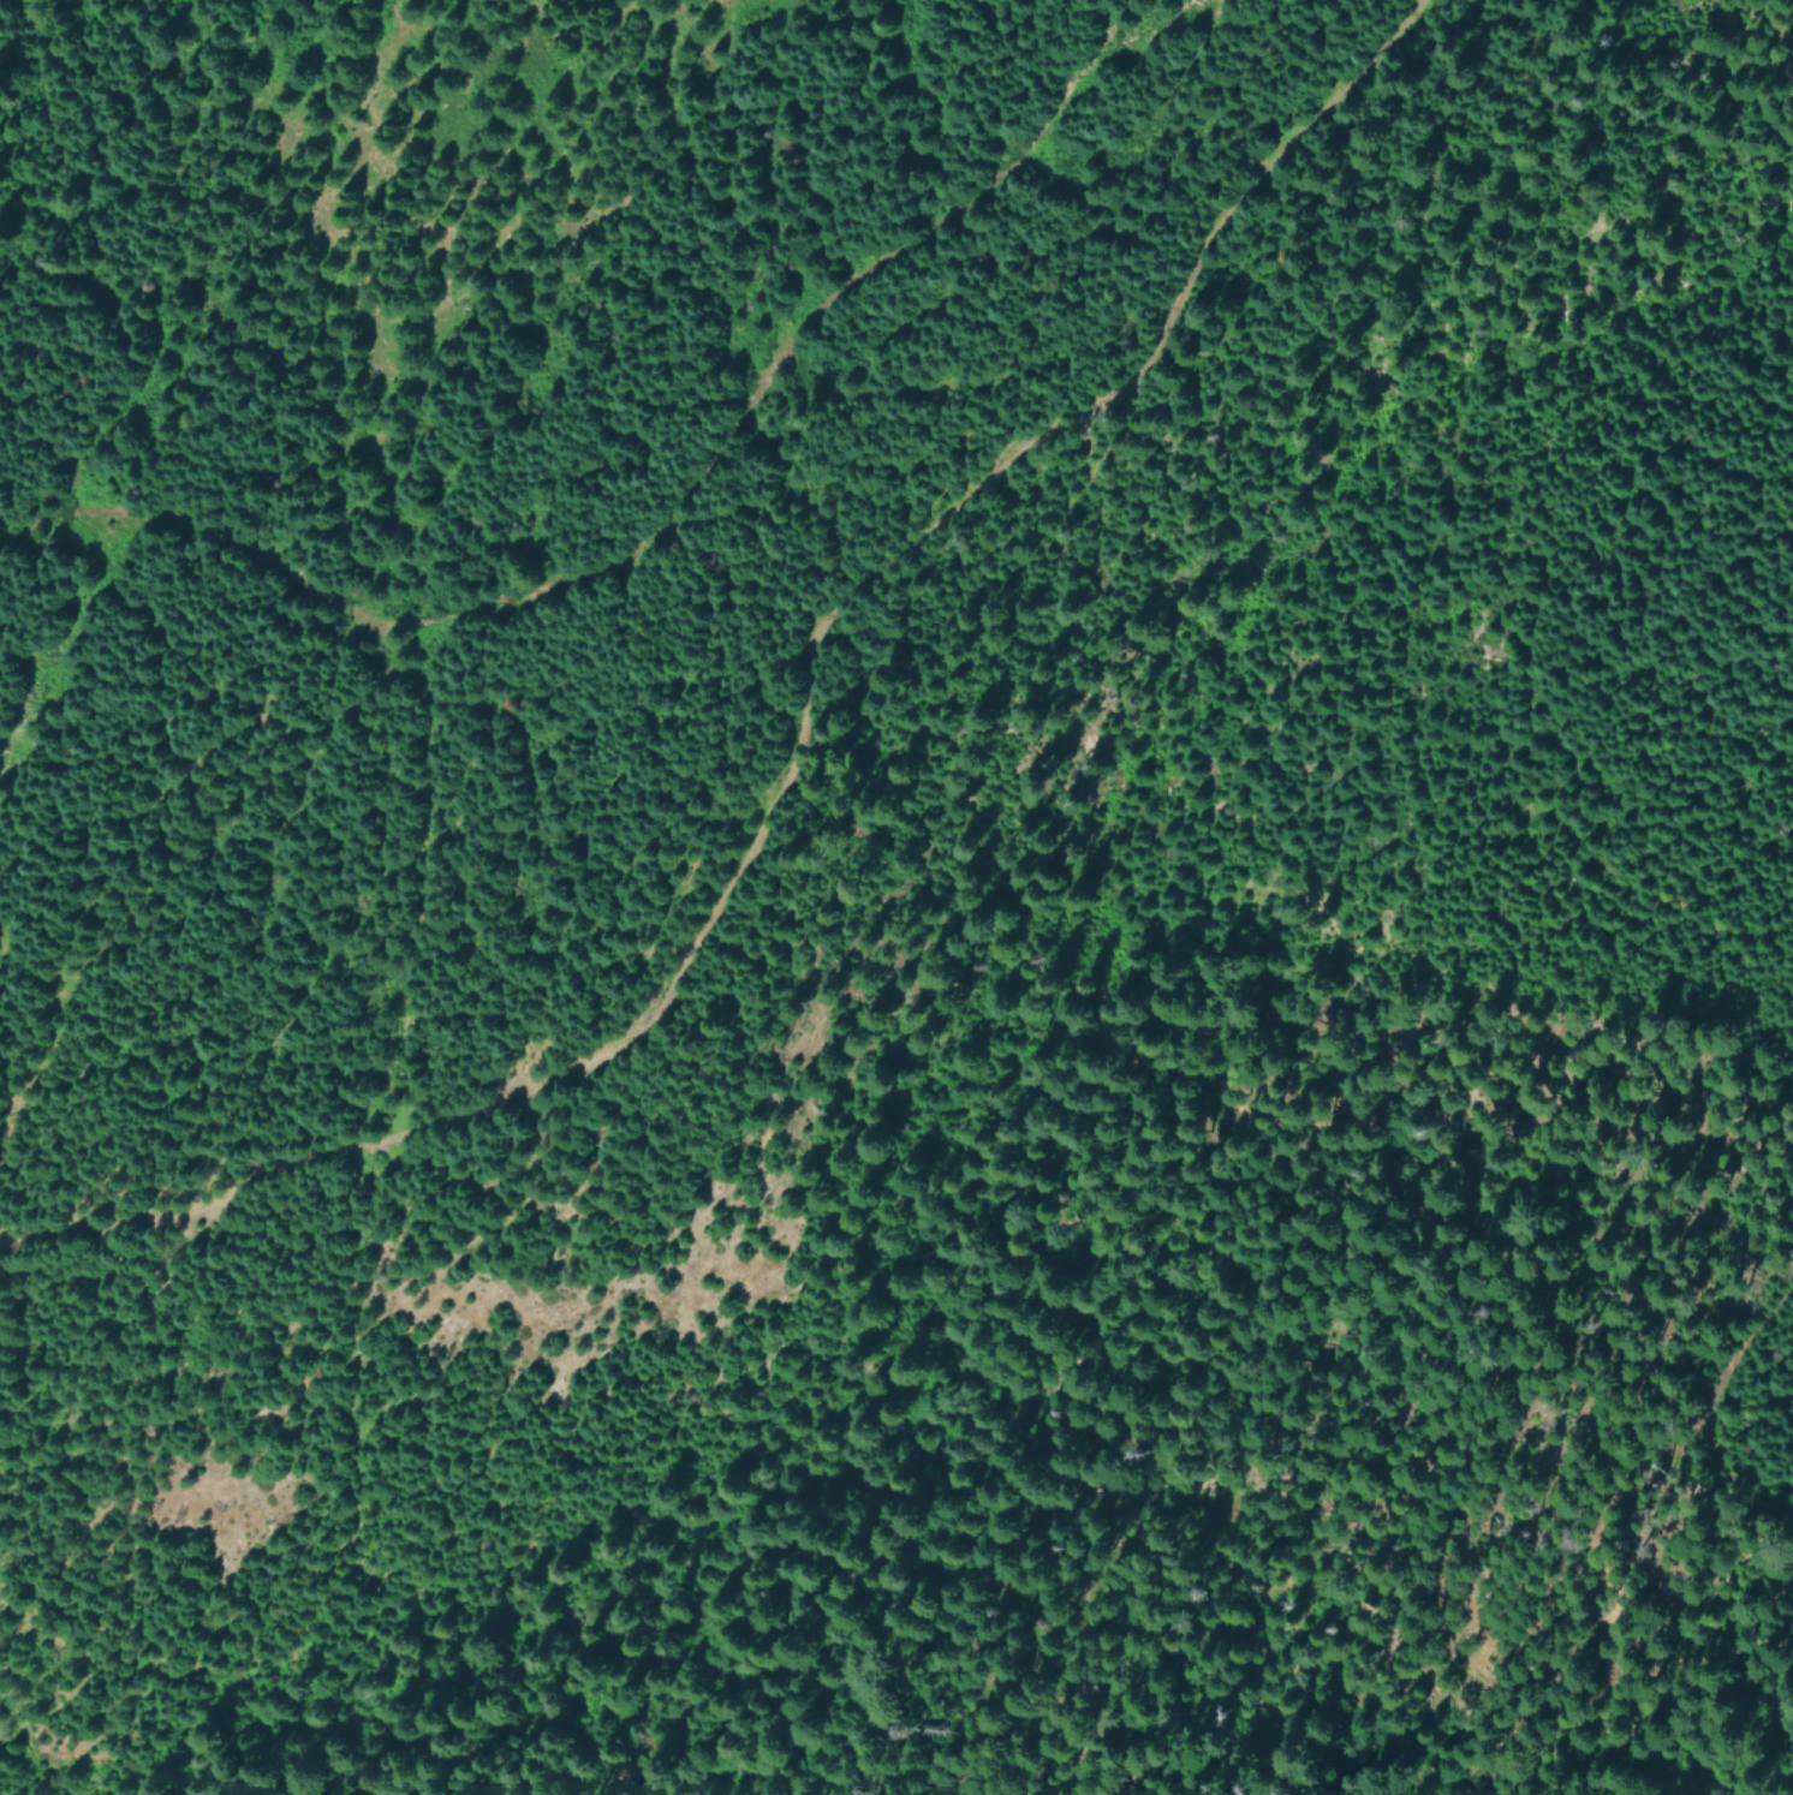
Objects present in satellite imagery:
road: (775, 732)

